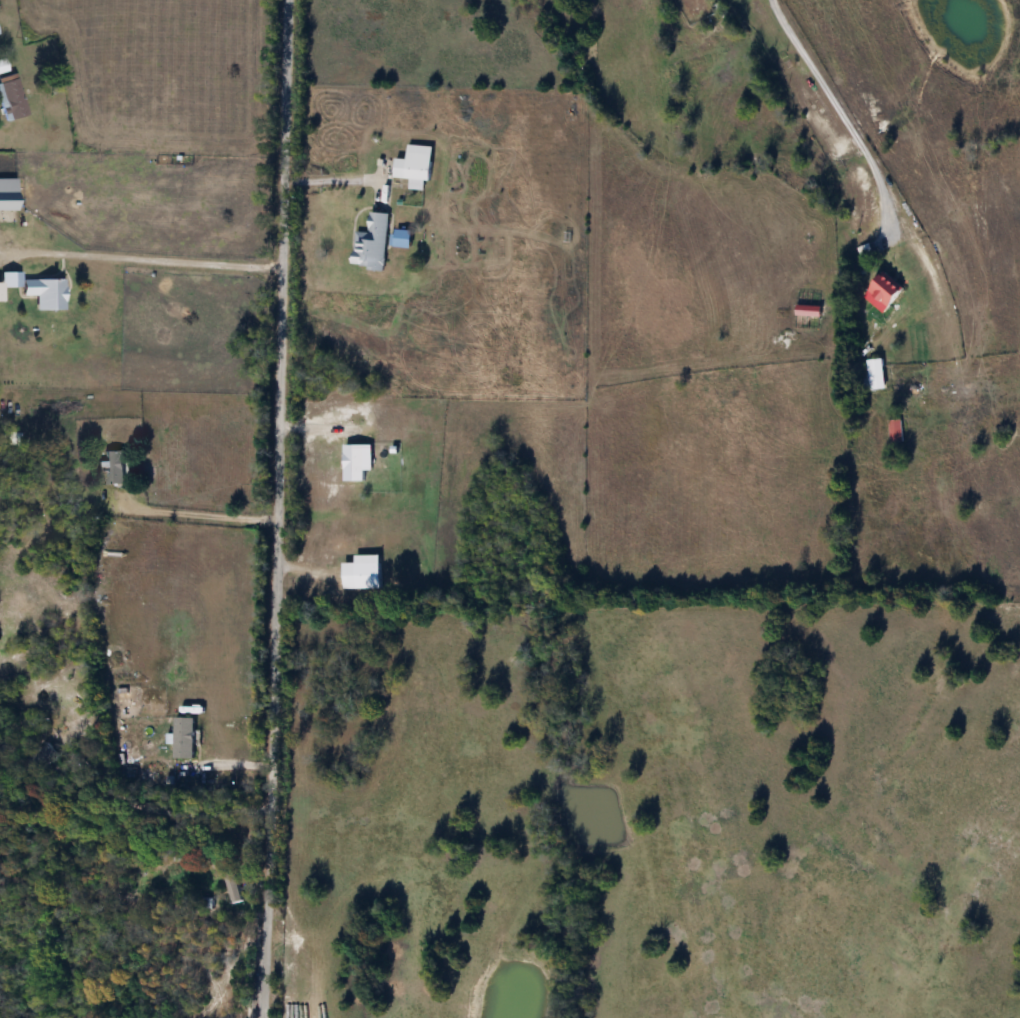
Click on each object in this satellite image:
building: (10, 99)
road: (830, 108)
building: (411, 163)
road: (332, 178)
building: (7, 195)
building: (369, 243)
road: (140, 259)
building: (881, 289)
building: (43, 293)
building: (872, 374)
building: (350, 462)
building: (112, 468)
road: (277, 509)
road: (201, 512)
building: (358, 573)
building: (46, 754)
road: (167, 810)
building: (210, 879)
building: (231, 885)

